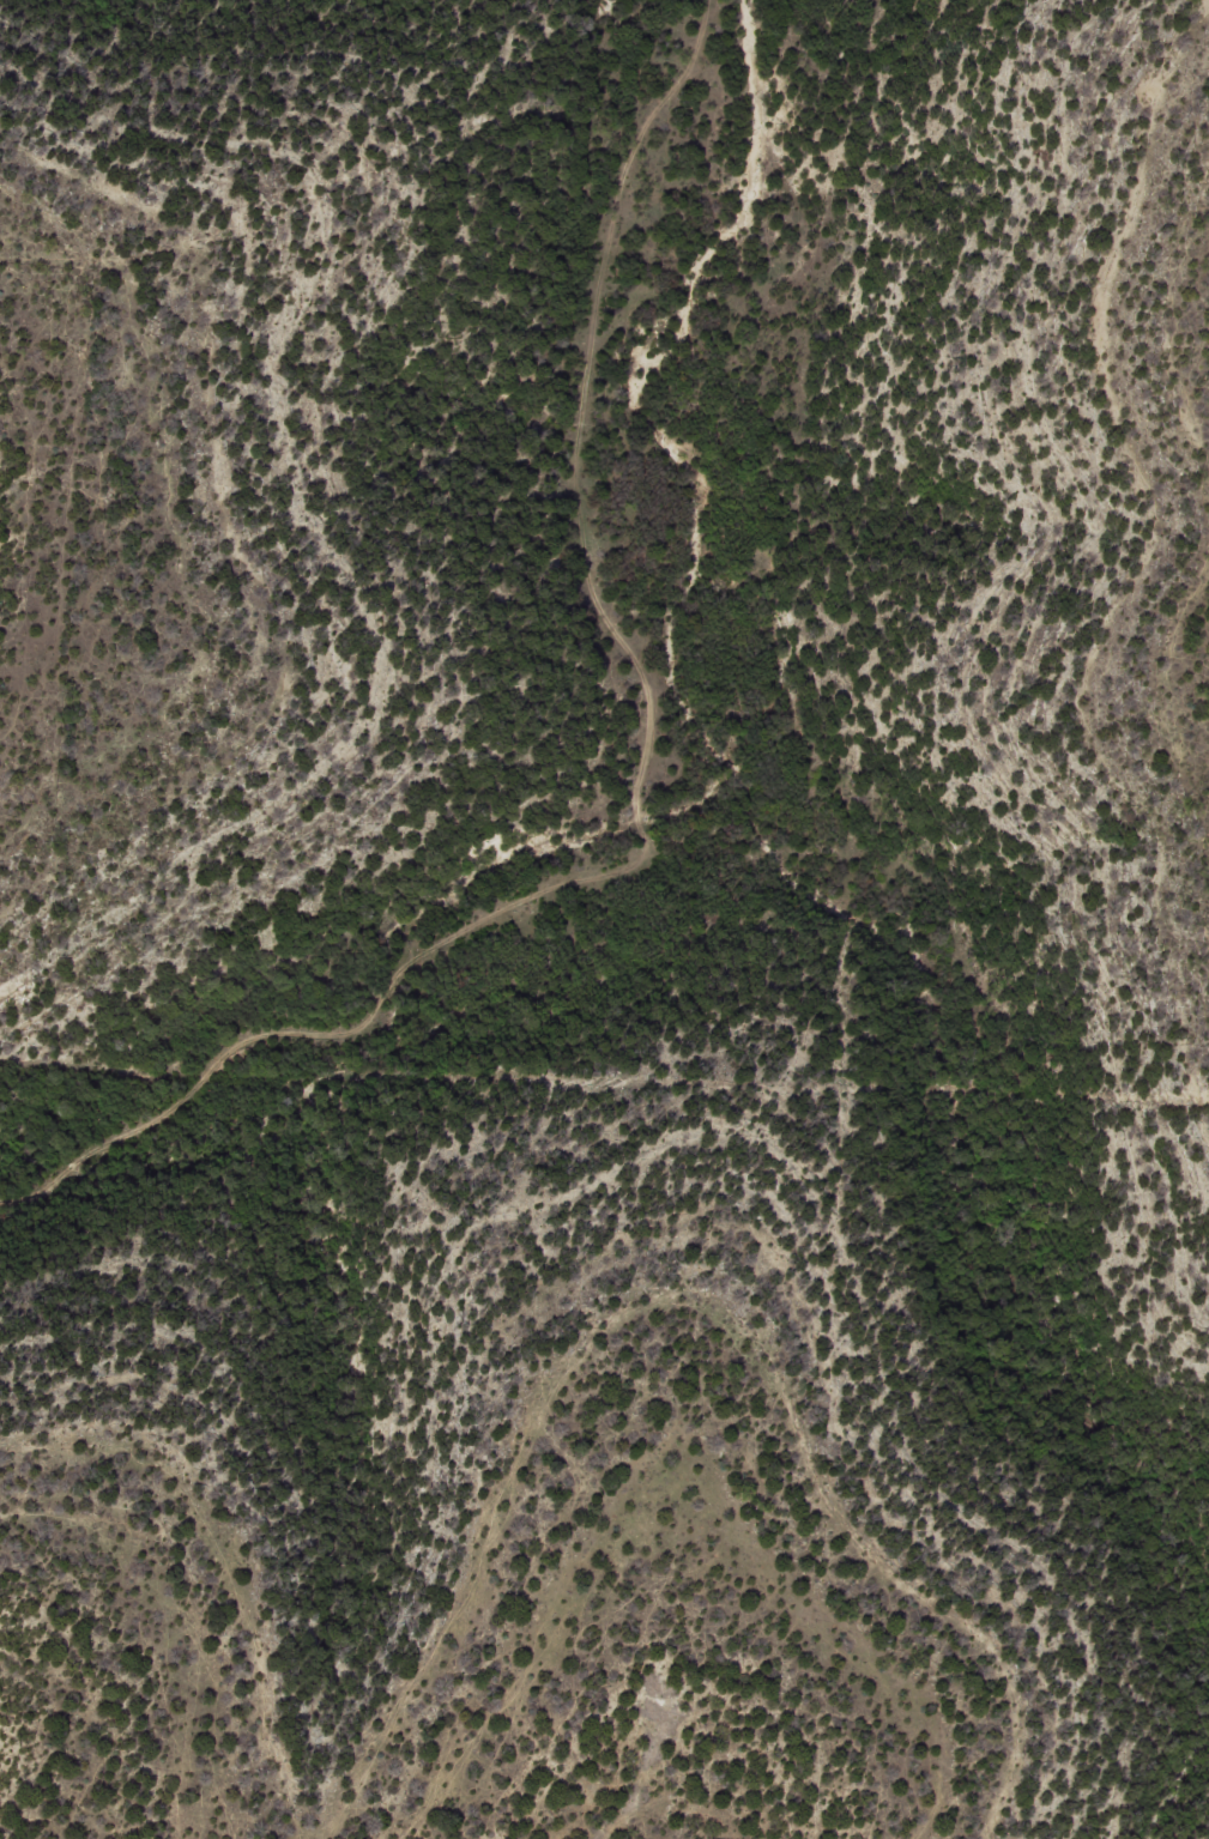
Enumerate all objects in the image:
road: (575, 405)
road: (290, 950)

